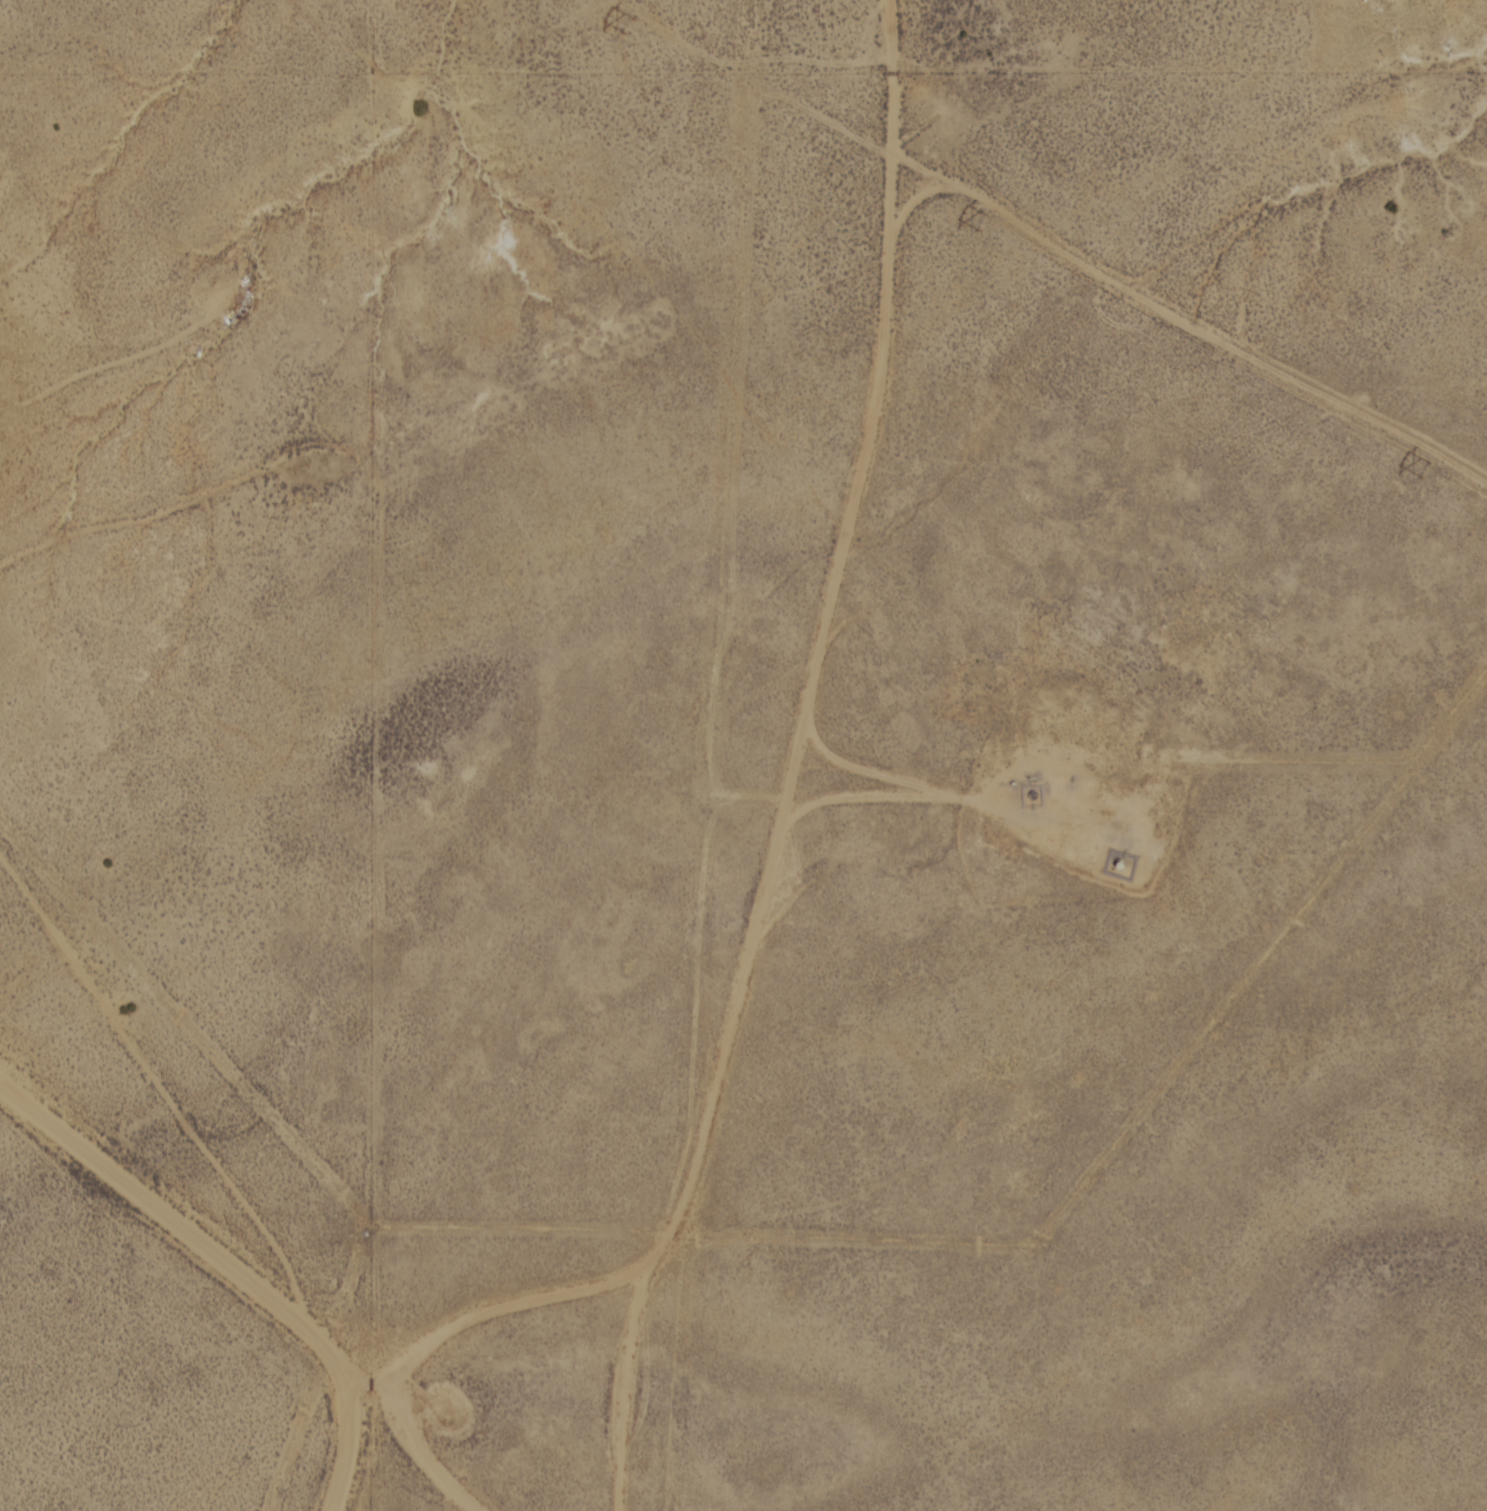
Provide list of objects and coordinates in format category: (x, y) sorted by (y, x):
power tower: (625, 25)
power tower: (976, 227)
power tower: (1421, 472)
road: (230, 1268)
road: (410, 1440)

